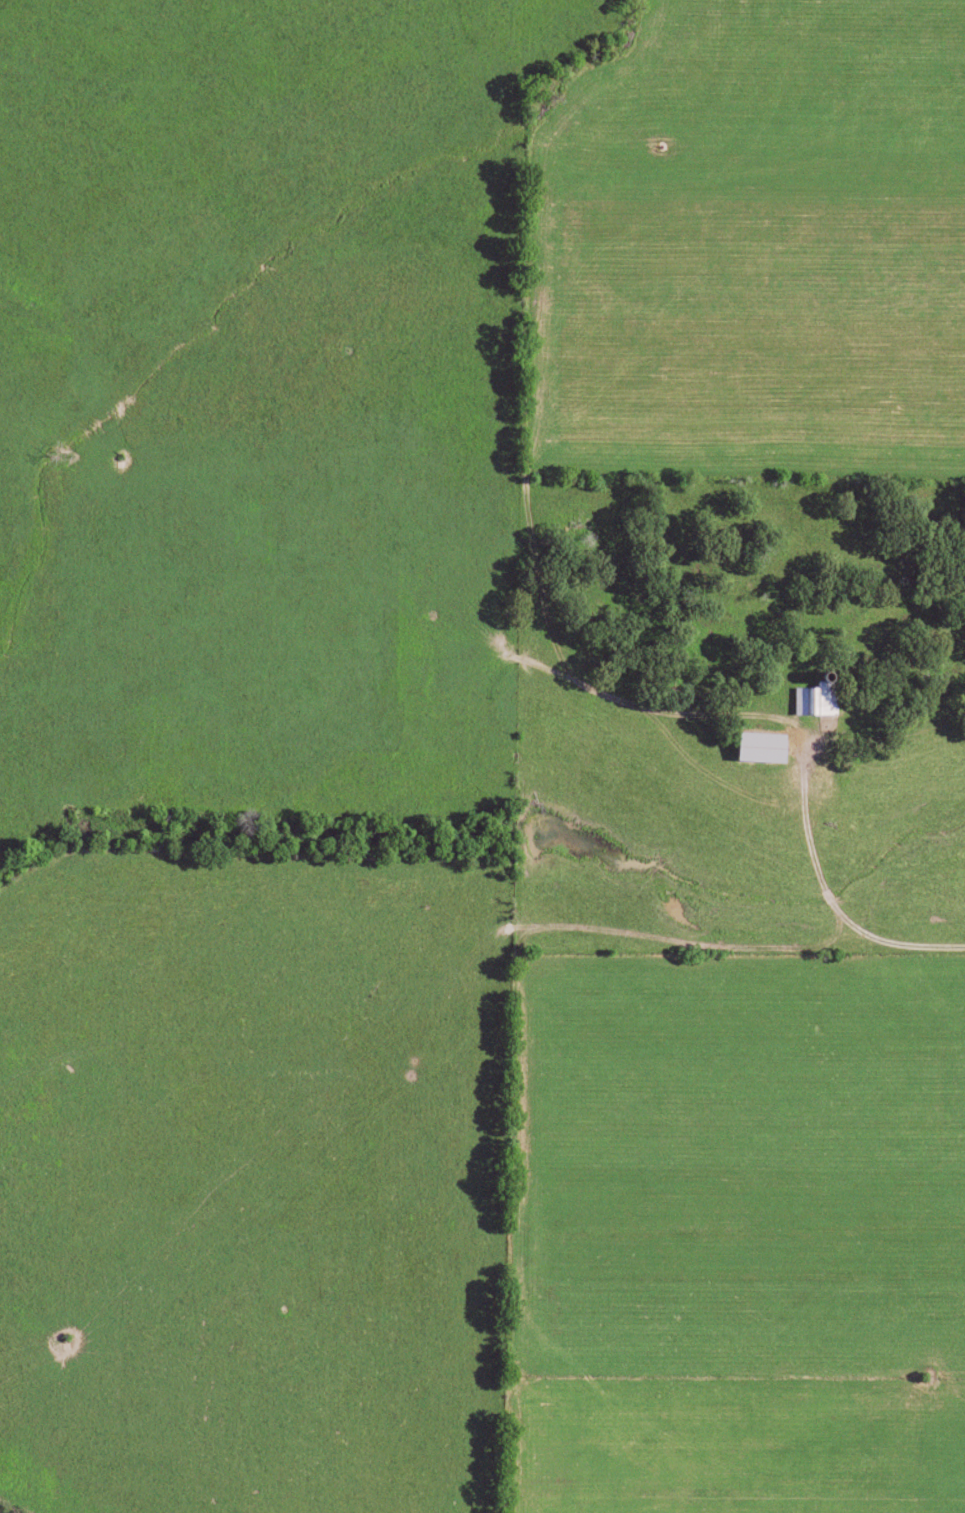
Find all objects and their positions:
road: (753, 715)
building: (770, 746)
road: (836, 909)

